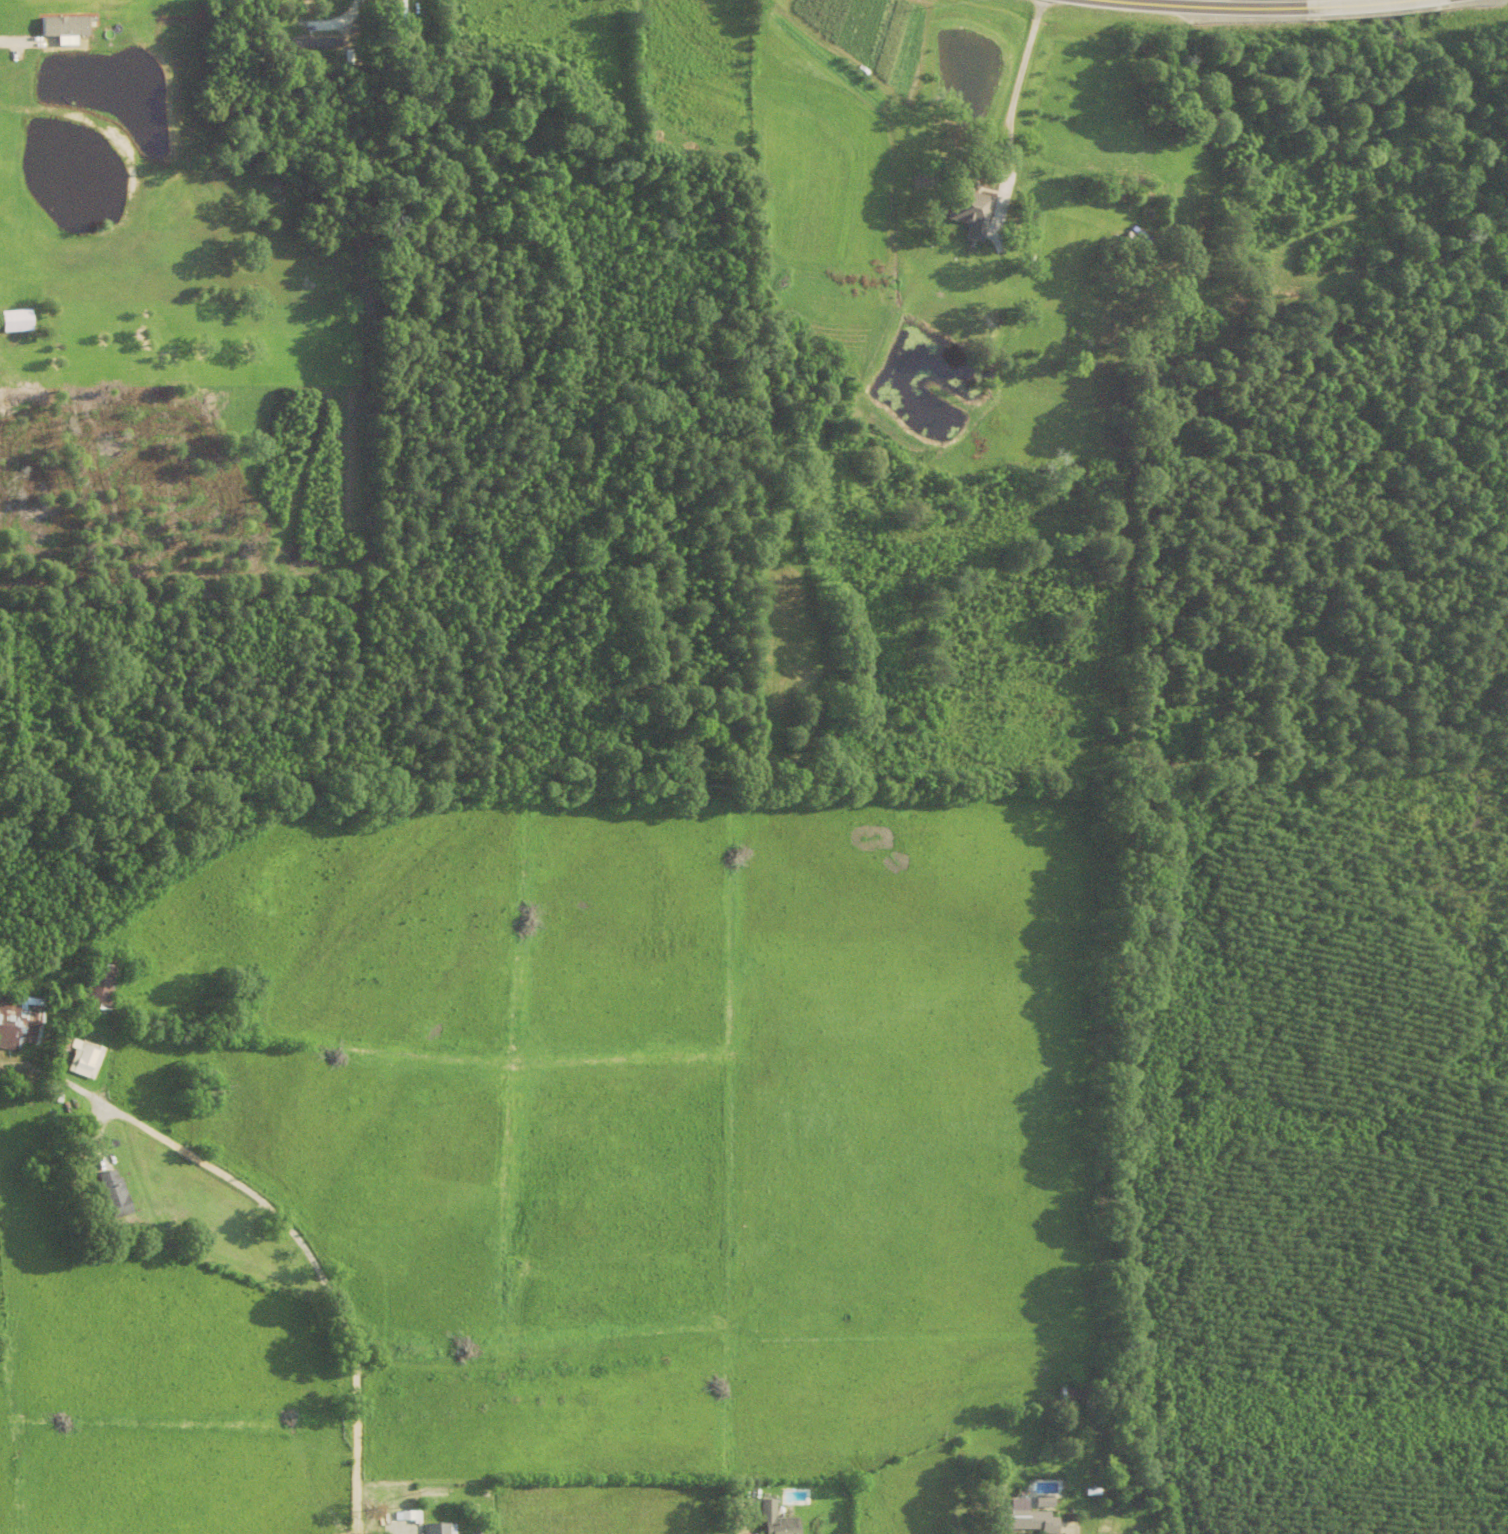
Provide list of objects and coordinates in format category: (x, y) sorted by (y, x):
road: (1354, 4)
road: (1215, 6)
building: (402, 17)
road: (339, 21)
building: (64, 24)
road: (18, 41)
crop: (858, 42)
road: (1016, 84)
river: (1420, 102)
road: (995, 145)
building: (969, 210)
road: (997, 210)
river: (1447, 232)
building: (102, 987)
building: (19, 1023)
building: (83, 1061)
building: (114, 1195)
road: (308, 1247)
building: (1068, 1395)
building: (777, 1521)
building: (1030, 1522)
building: (441, 1529)

